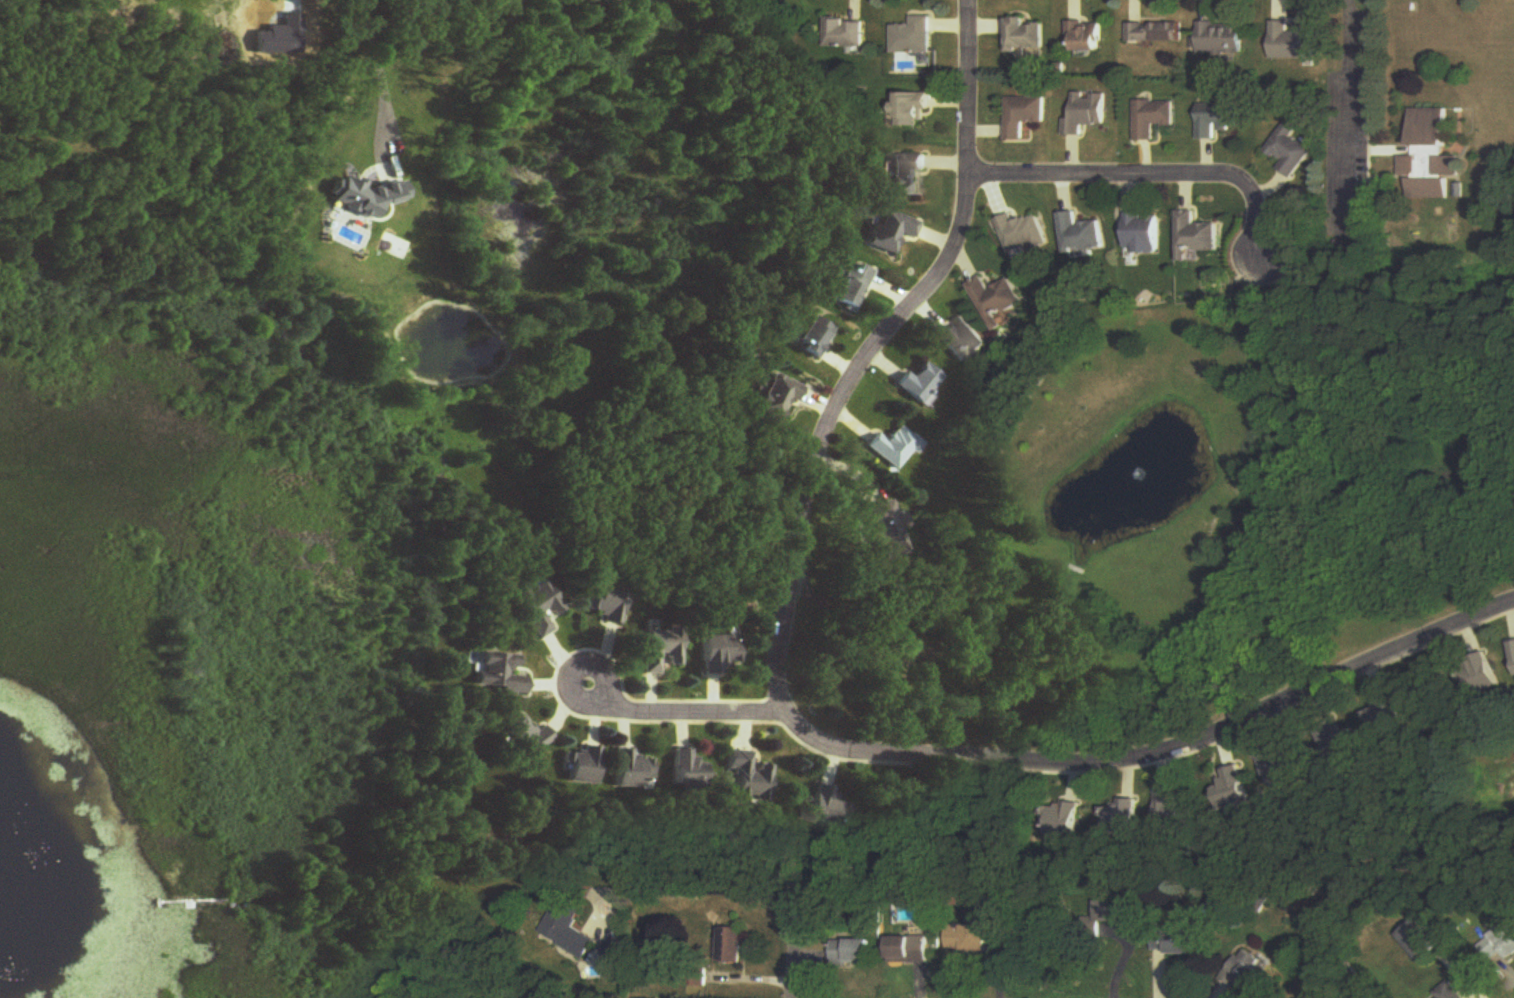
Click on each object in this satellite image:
building: (1154, 33)
building: (845, 34)
building: (912, 37)
building: (1022, 37)
building: (1084, 37)
building: (1221, 38)
building: (1293, 43)
road: (378, 72)
building: (913, 110)
road: (1347, 112)
building: (1084, 113)
building: (1022, 115)
building: (1151, 119)
building: (1216, 119)
building: (1289, 152)
building: (1430, 157)
building: (906, 173)
road: (1156, 175)
building: (892, 231)
building: (1022, 234)
building: (1080, 234)
building: (1142, 235)
building: (1196, 236)
building: (853, 289)
building: (996, 300)
building: (815, 337)
building: (962, 340)
building: (920, 384)
building: (778, 398)
building: (895, 447)
building: (888, 529)
building: (607, 601)
building: (538, 607)
building: (1513, 647)
building: (661, 650)
building: (719, 654)
building: (928, 667)
building: (500, 673)
building: (1482, 674)
road: (670, 713)
building: (1386, 715)
road: (788, 717)
building: (526, 739)
building: (583, 767)
building: (688, 769)
building: (633, 771)
building: (1283, 772)
building: (749, 779)
building: (1234, 788)
building: (829, 808)
building: (1176, 810)
building: (1121, 818)
building: (1063, 819)
road: (757, 887)
building: (1119, 911)
building: (568, 930)
building: (969, 939)
building: (1421, 941)
building: (1178, 942)
building: (732, 946)
building: (1499, 946)
building: (910, 950)
building: (853, 952)
building: (1247, 972)
building: (1451, 992)

